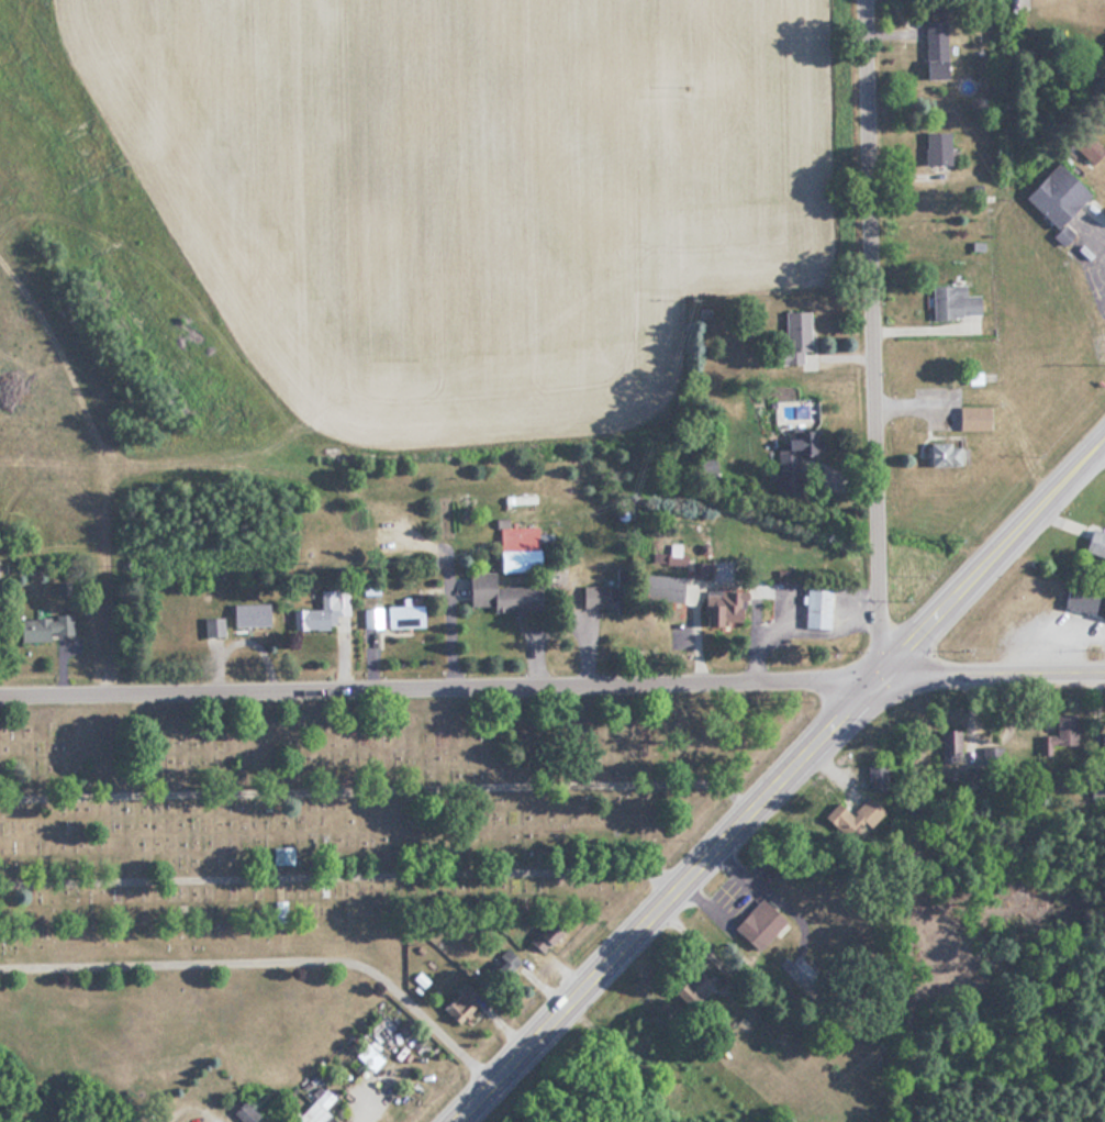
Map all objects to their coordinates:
building: (1085, 147)
building: (934, 148)
building: (1052, 196)
road: (1086, 263)
building: (951, 302)
building: (792, 335)
road: (874, 340)
building: (969, 419)
building: (793, 445)
building: (939, 454)
building: (1093, 543)
building: (697, 568)
building: (660, 587)
building: (498, 592)
building: (595, 595)
building: (1082, 601)
building: (814, 606)
building: (722, 608)
building: (319, 611)
building: (243, 613)
building: (401, 614)
building: (370, 615)
building: (211, 625)
building: (31, 629)
road: (551, 686)
building: (1060, 733)
building: (948, 745)
building: (1101, 746)
building: (993, 754)
road: (780, 779)
road: (379, 796)
building: (862, 815)
park: (309, 857)
road: (344, 885)
road: (730, 890)
road: (792, 908)
building: (755, 925)
building: (540, 935)
building: (459, 1002)
building: (314, 1108)

